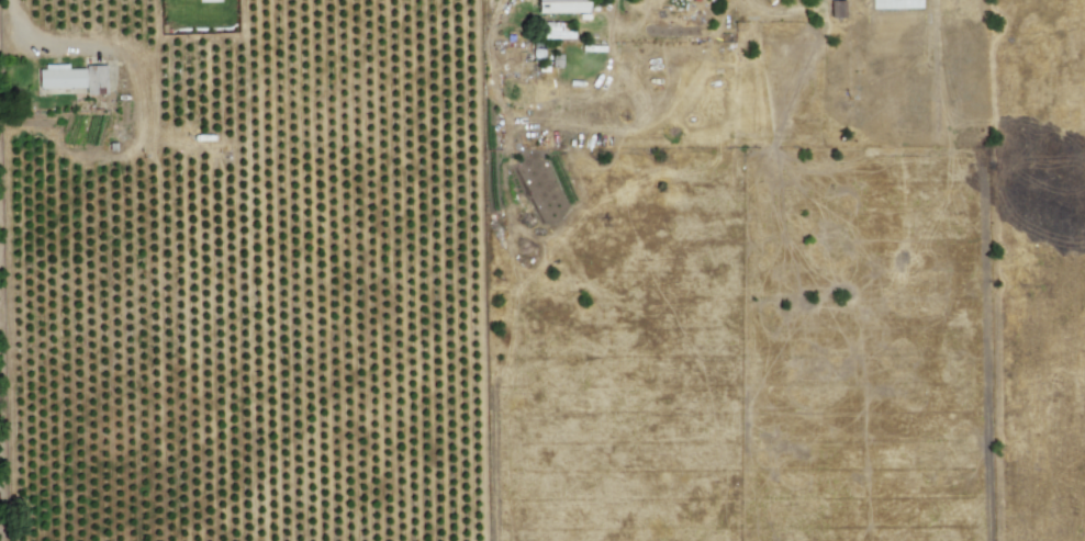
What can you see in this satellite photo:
building: (561, 5)
road: (500, 8)
building: (836, 9)
road: (25, 37)
building: (71, 78)

